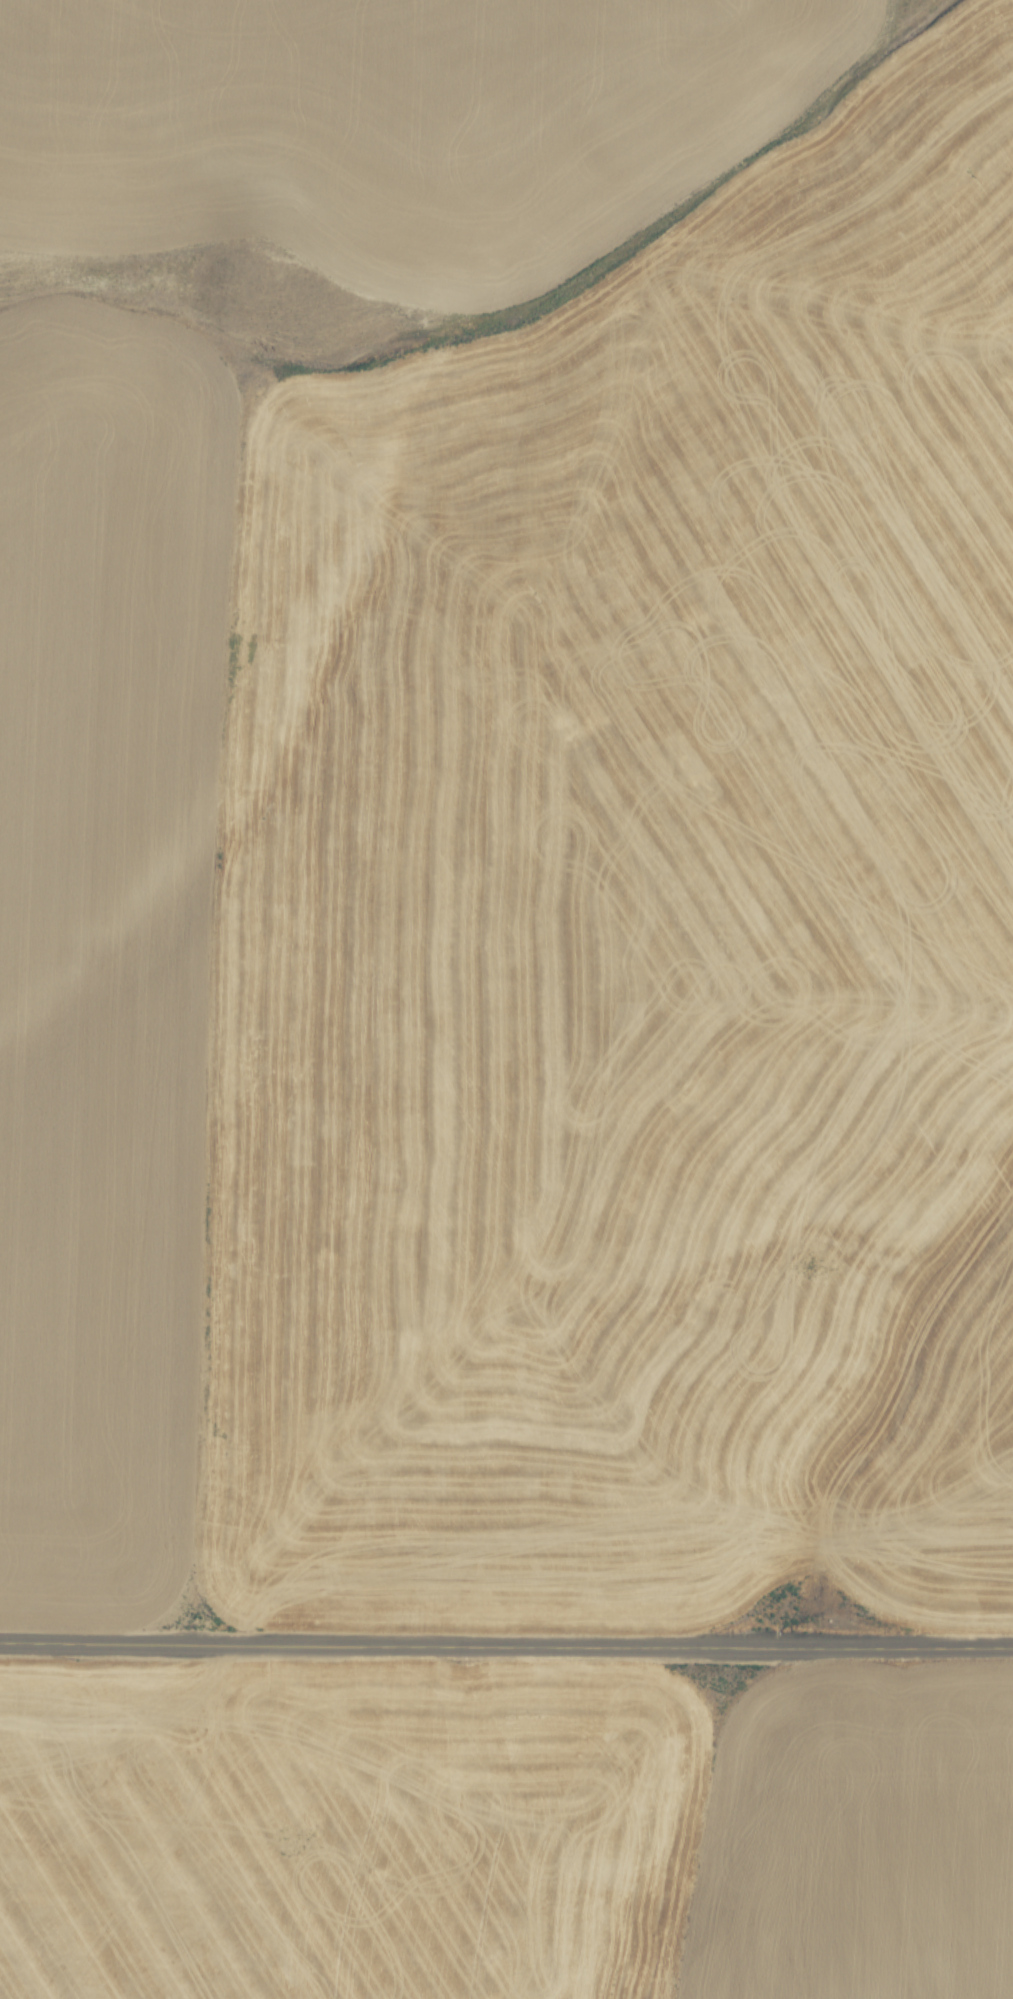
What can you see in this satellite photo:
road: (506, 1645)

